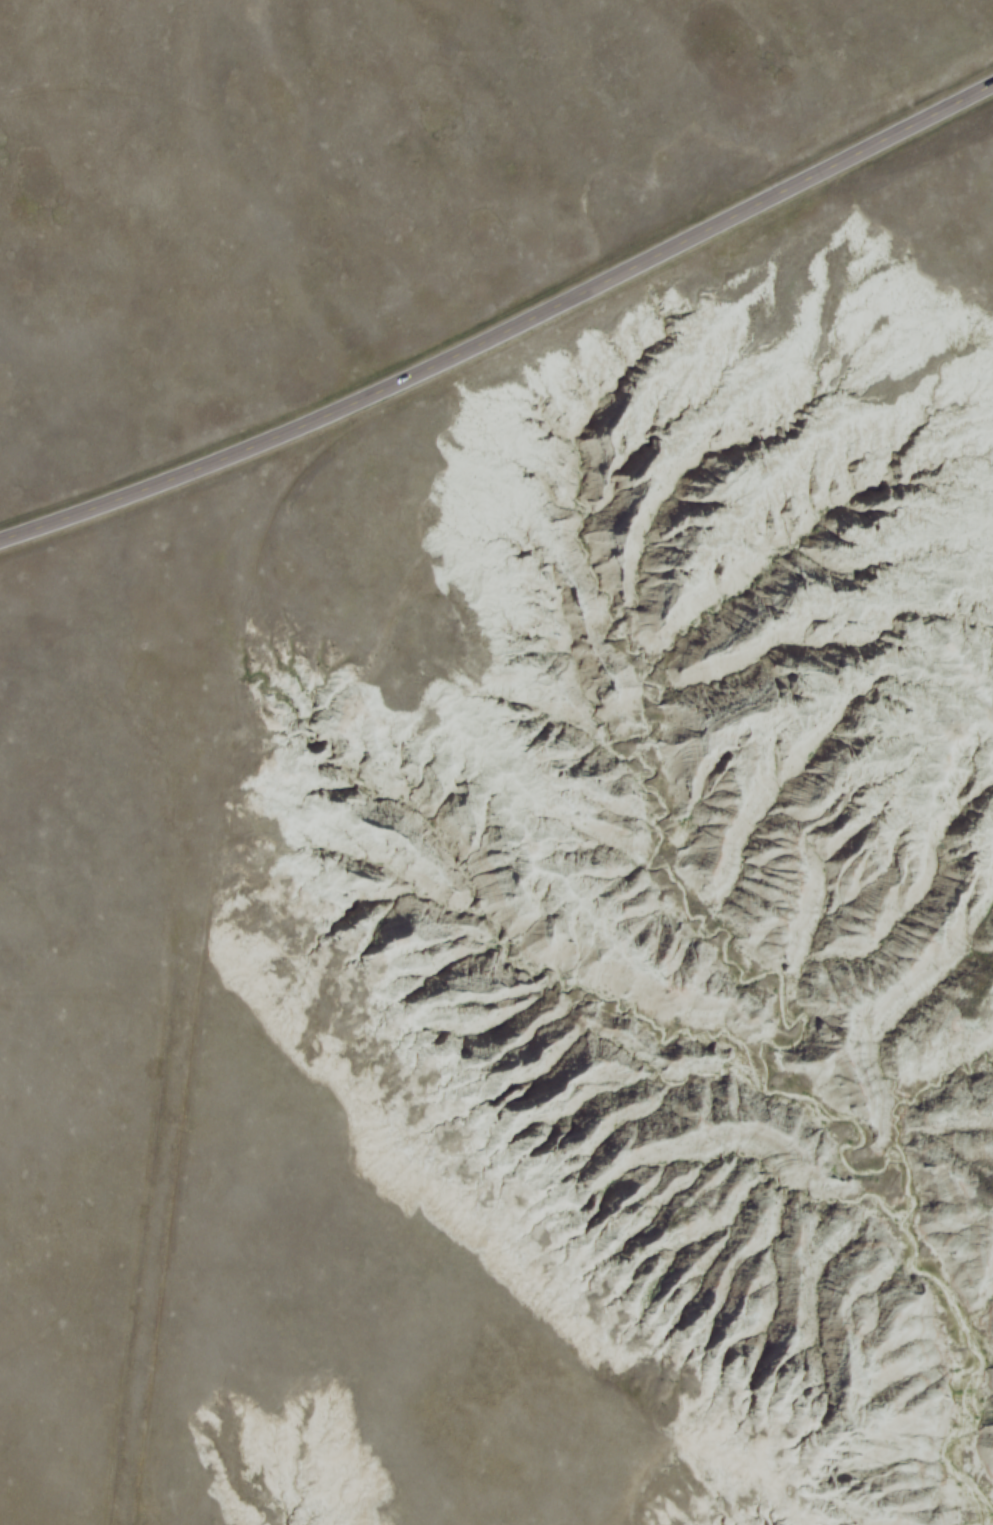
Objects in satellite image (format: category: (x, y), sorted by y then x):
road: (504, 328)

